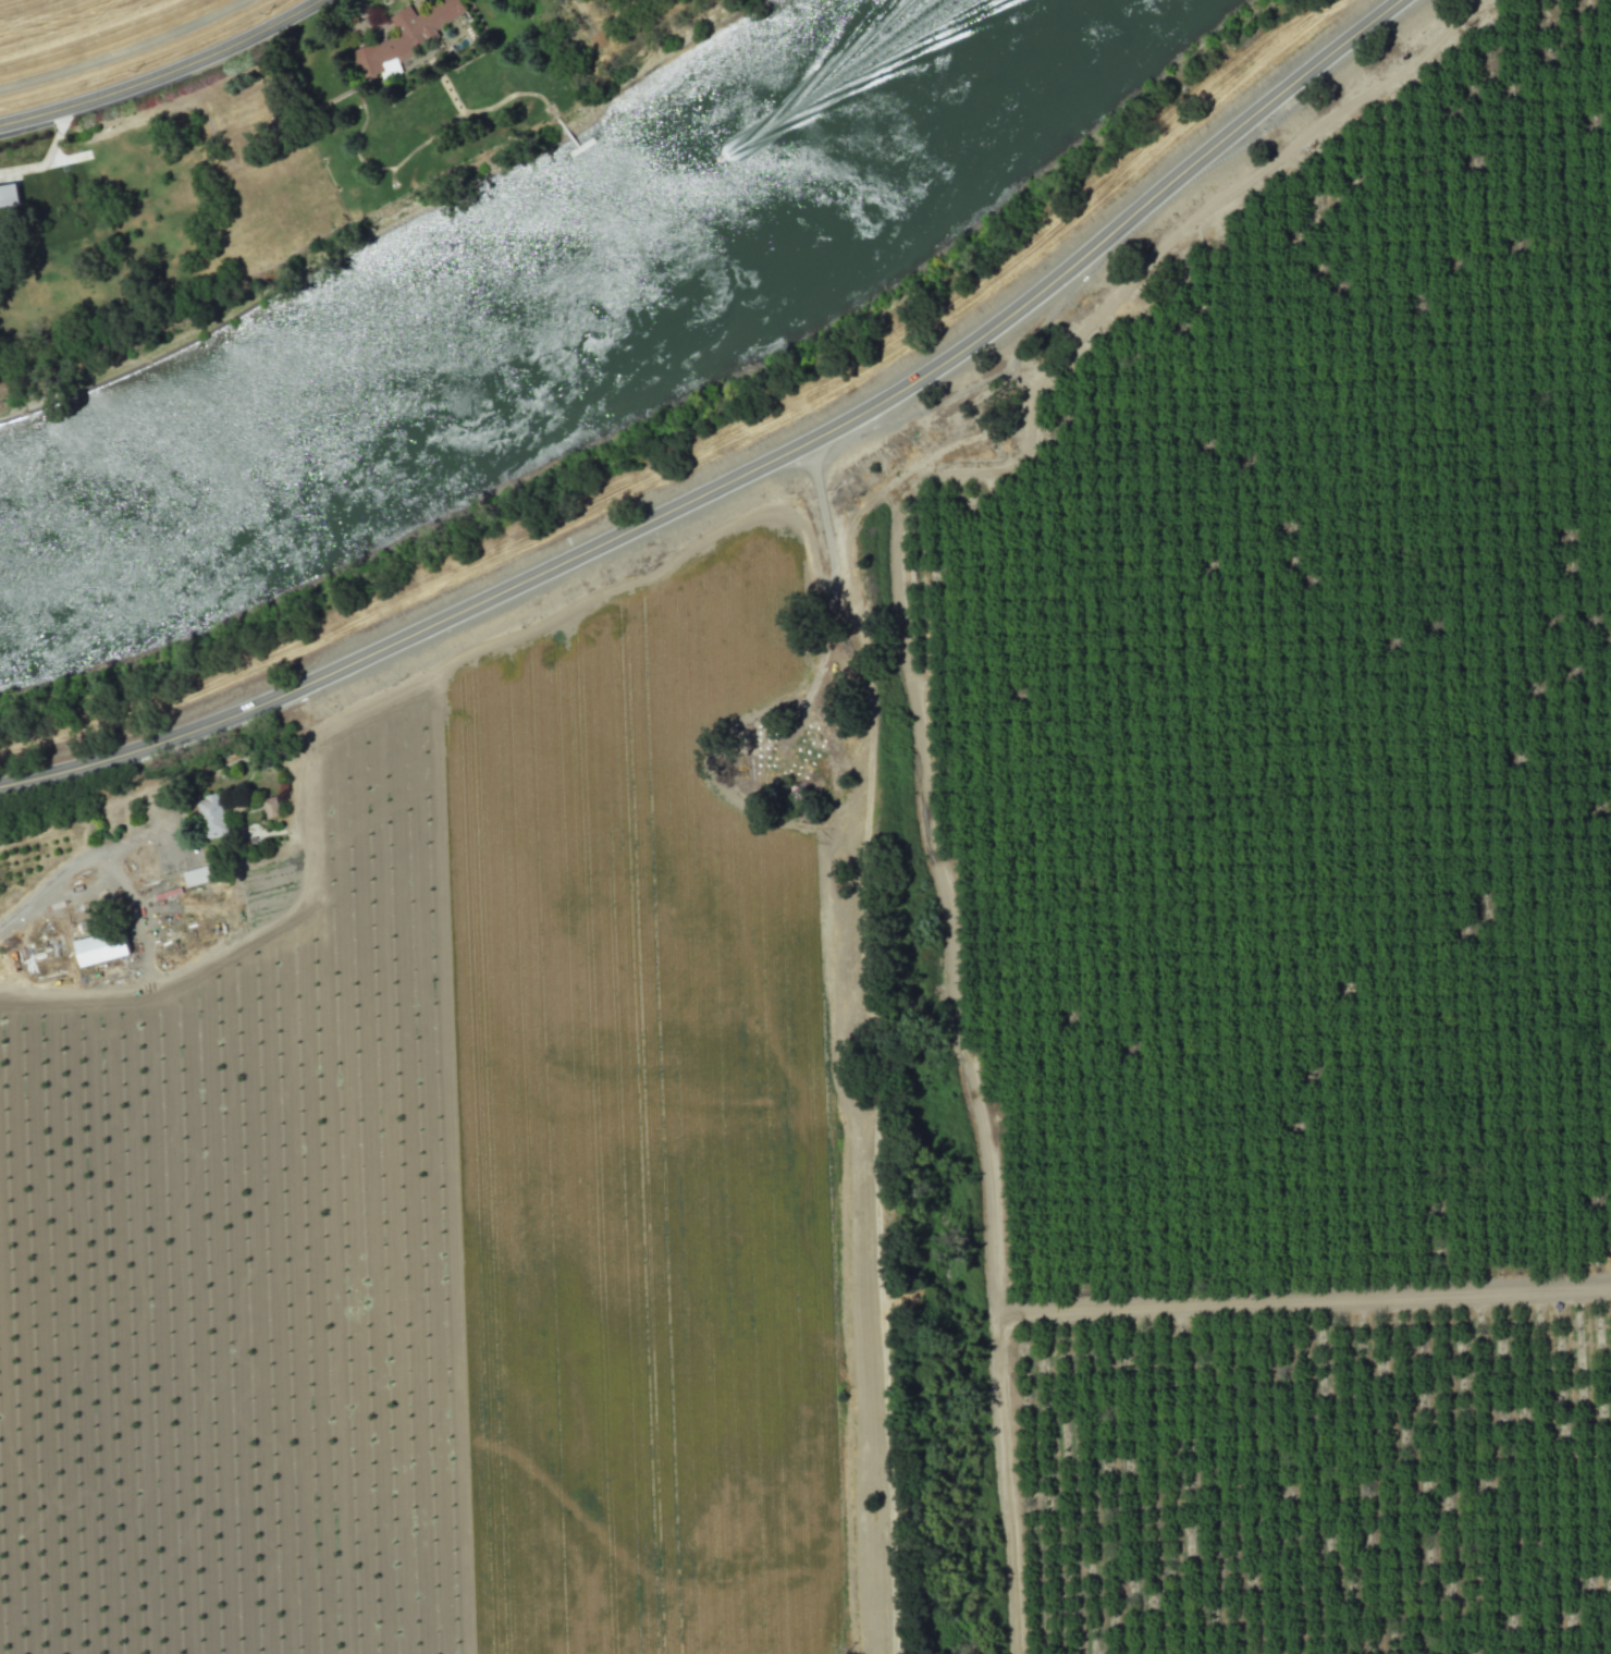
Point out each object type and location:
building: (405, 37)
road: (168, 75)
building: (9, 194)
river: (540, 314)
road: (746, 471)
building: (270, 806)
building: (211, 816)
road: (85, 862)
building: (196, 875)
crop: (1291, 887)
building: (99, 948)
crop: (444, 1107)

